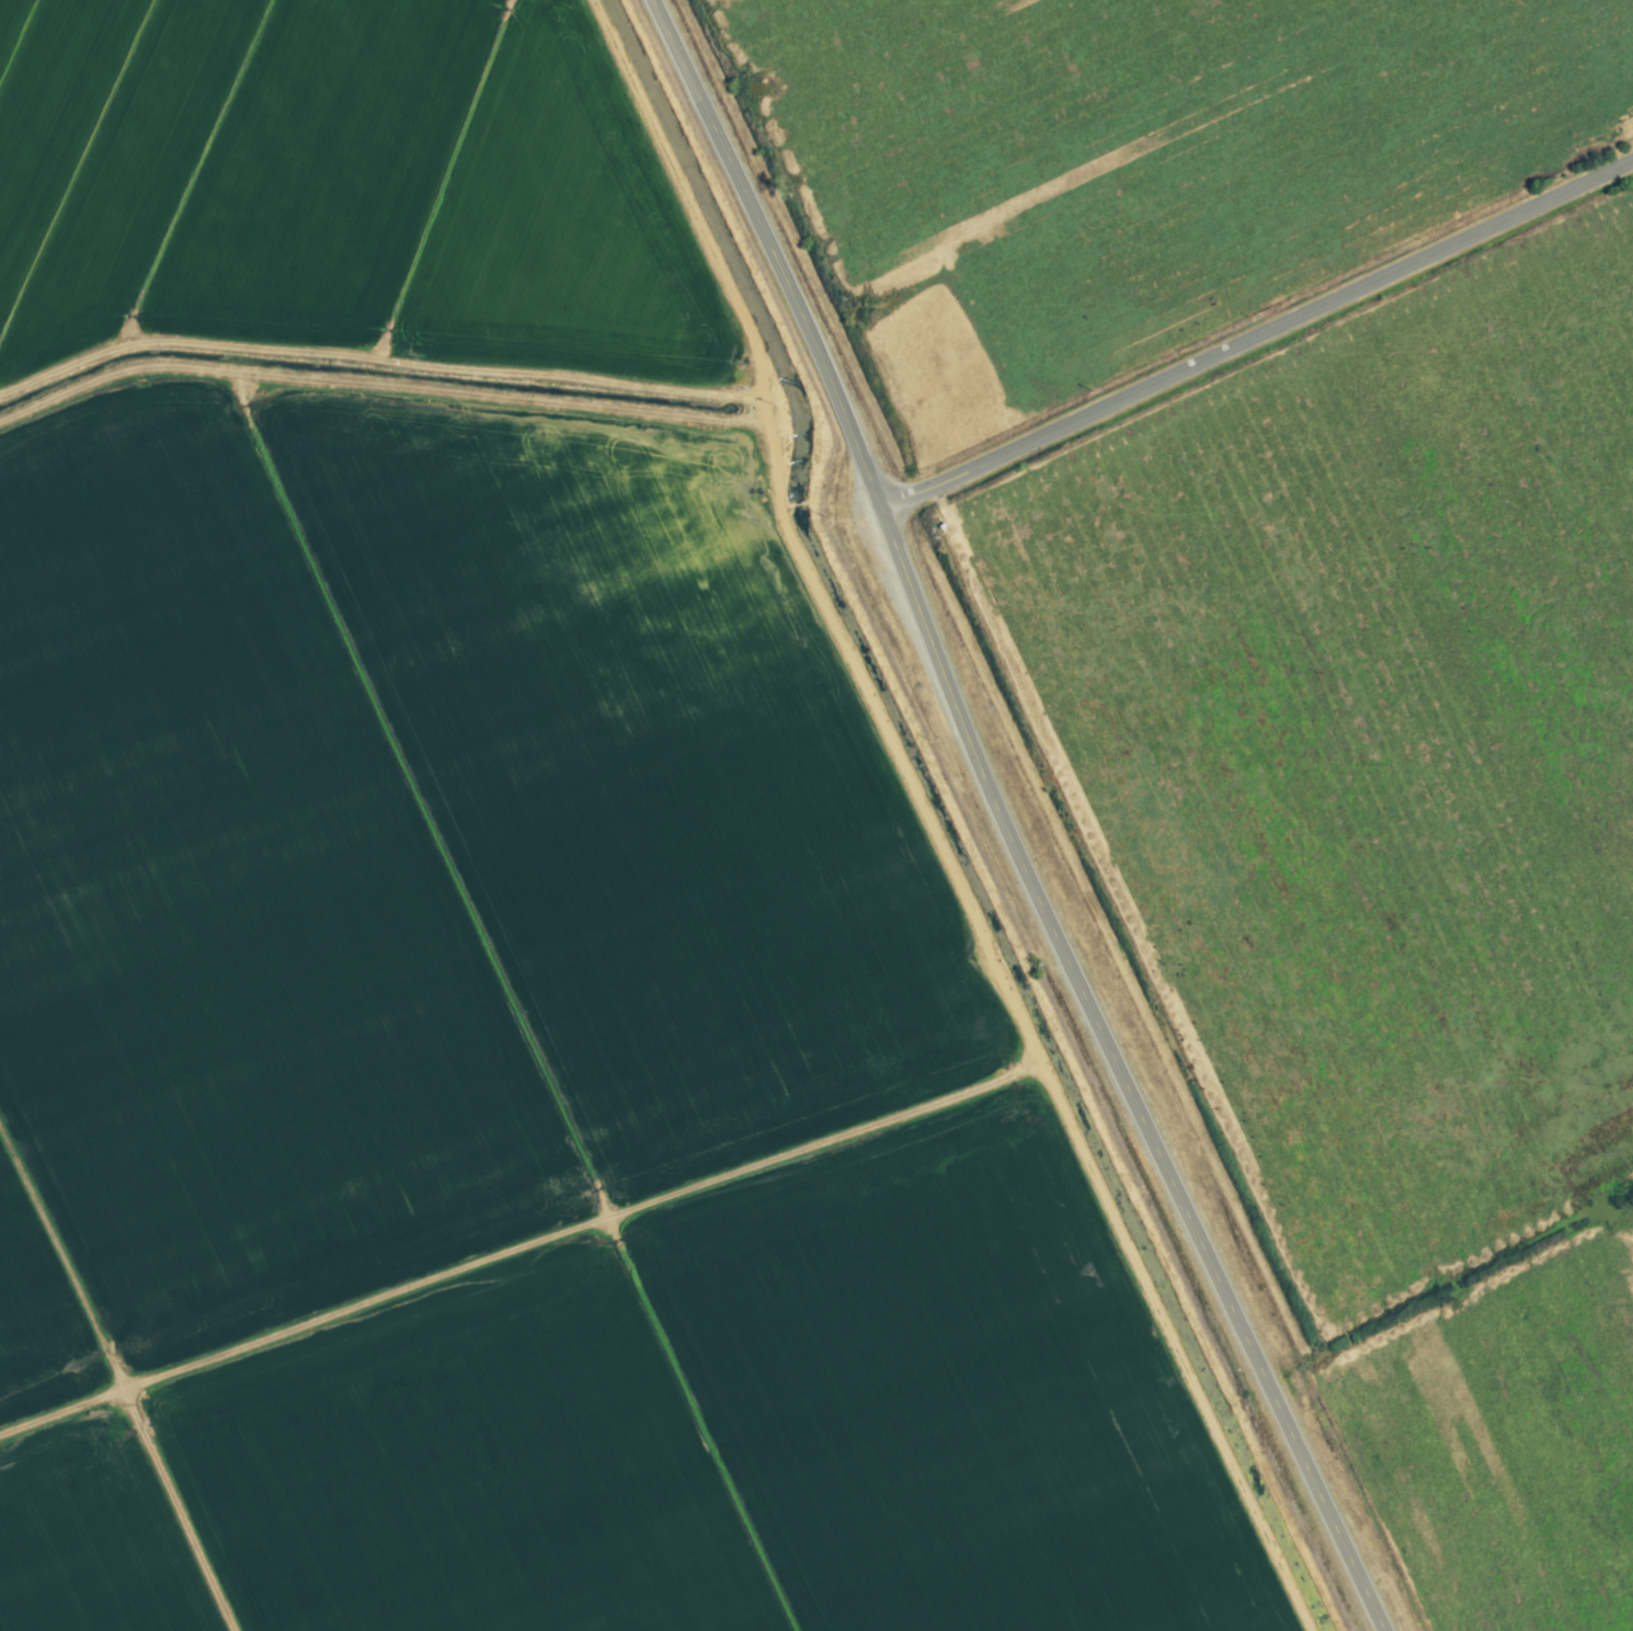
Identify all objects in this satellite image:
road: (1257, 335)
road: (1001, 822)

